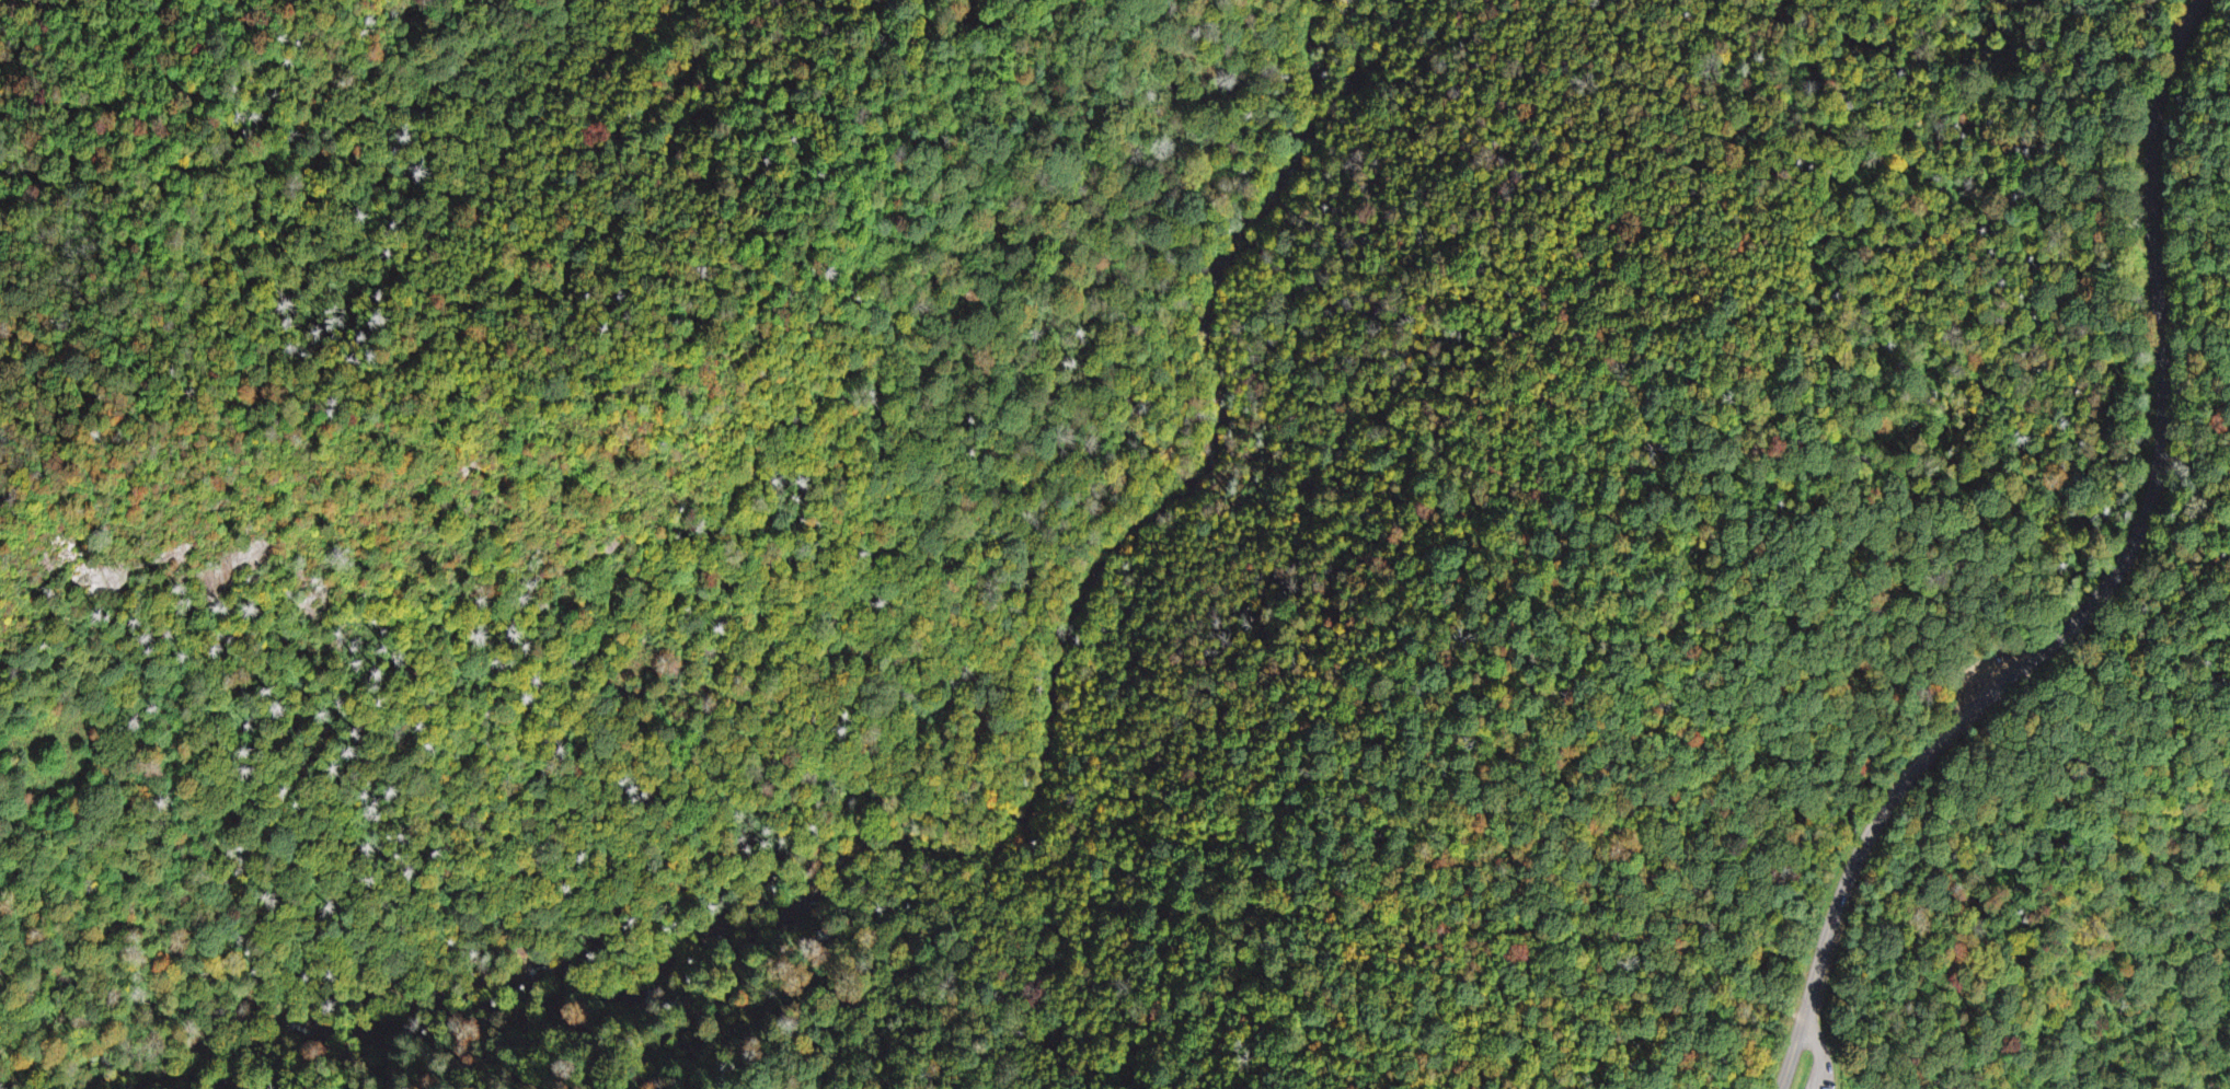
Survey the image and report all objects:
road: (2021, 193)
road: (1696, 367)
road: (2163, 382)
road: (1027, 574)
road: (1896, 729)
road: (1848, 879)
road: (1687, 908)
road: (666, 954)
road: (553, 959)
road: (821, 1042)
road: (1819, 1053)
parking lot: (1818, 1058)

